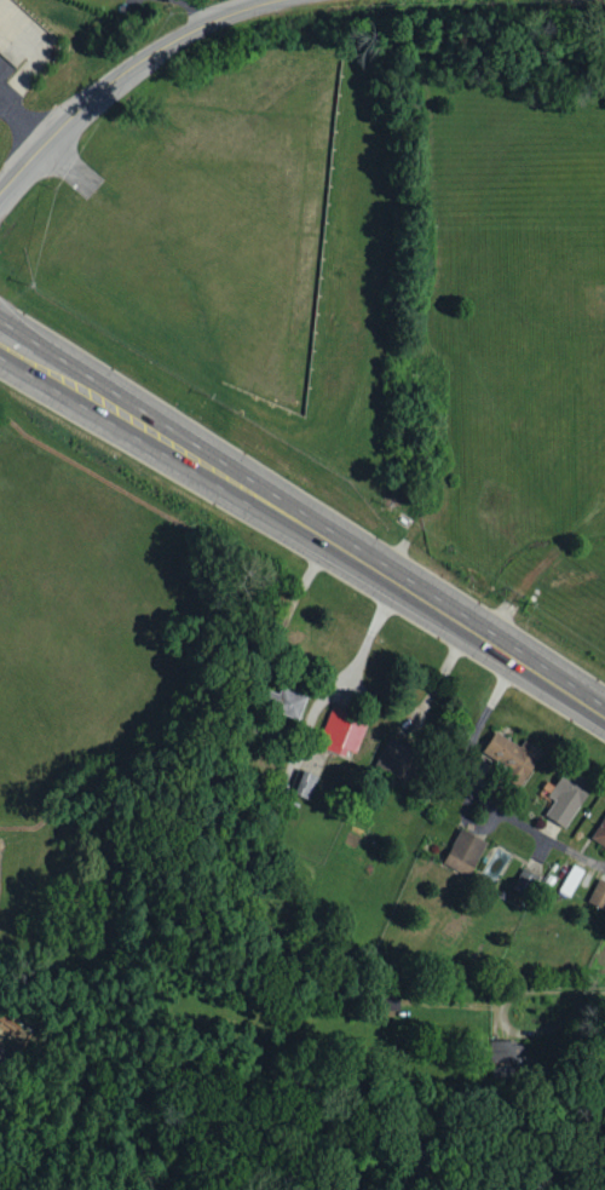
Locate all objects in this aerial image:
road: (126, 76)
road: (25, 120)
road: (71, 165)
road: (304, 531)
building: (342, 731)
building: (513, 754)
building: (397, 758)
building: (306, 783)
road: (479, 792)
building: (567, 797)
building: (600, 833)
building: (465, 851)
building: (525, 880)
building: (571, 880)
building: (598, 893)
road: (604, 989)
road: (497, 1014)

